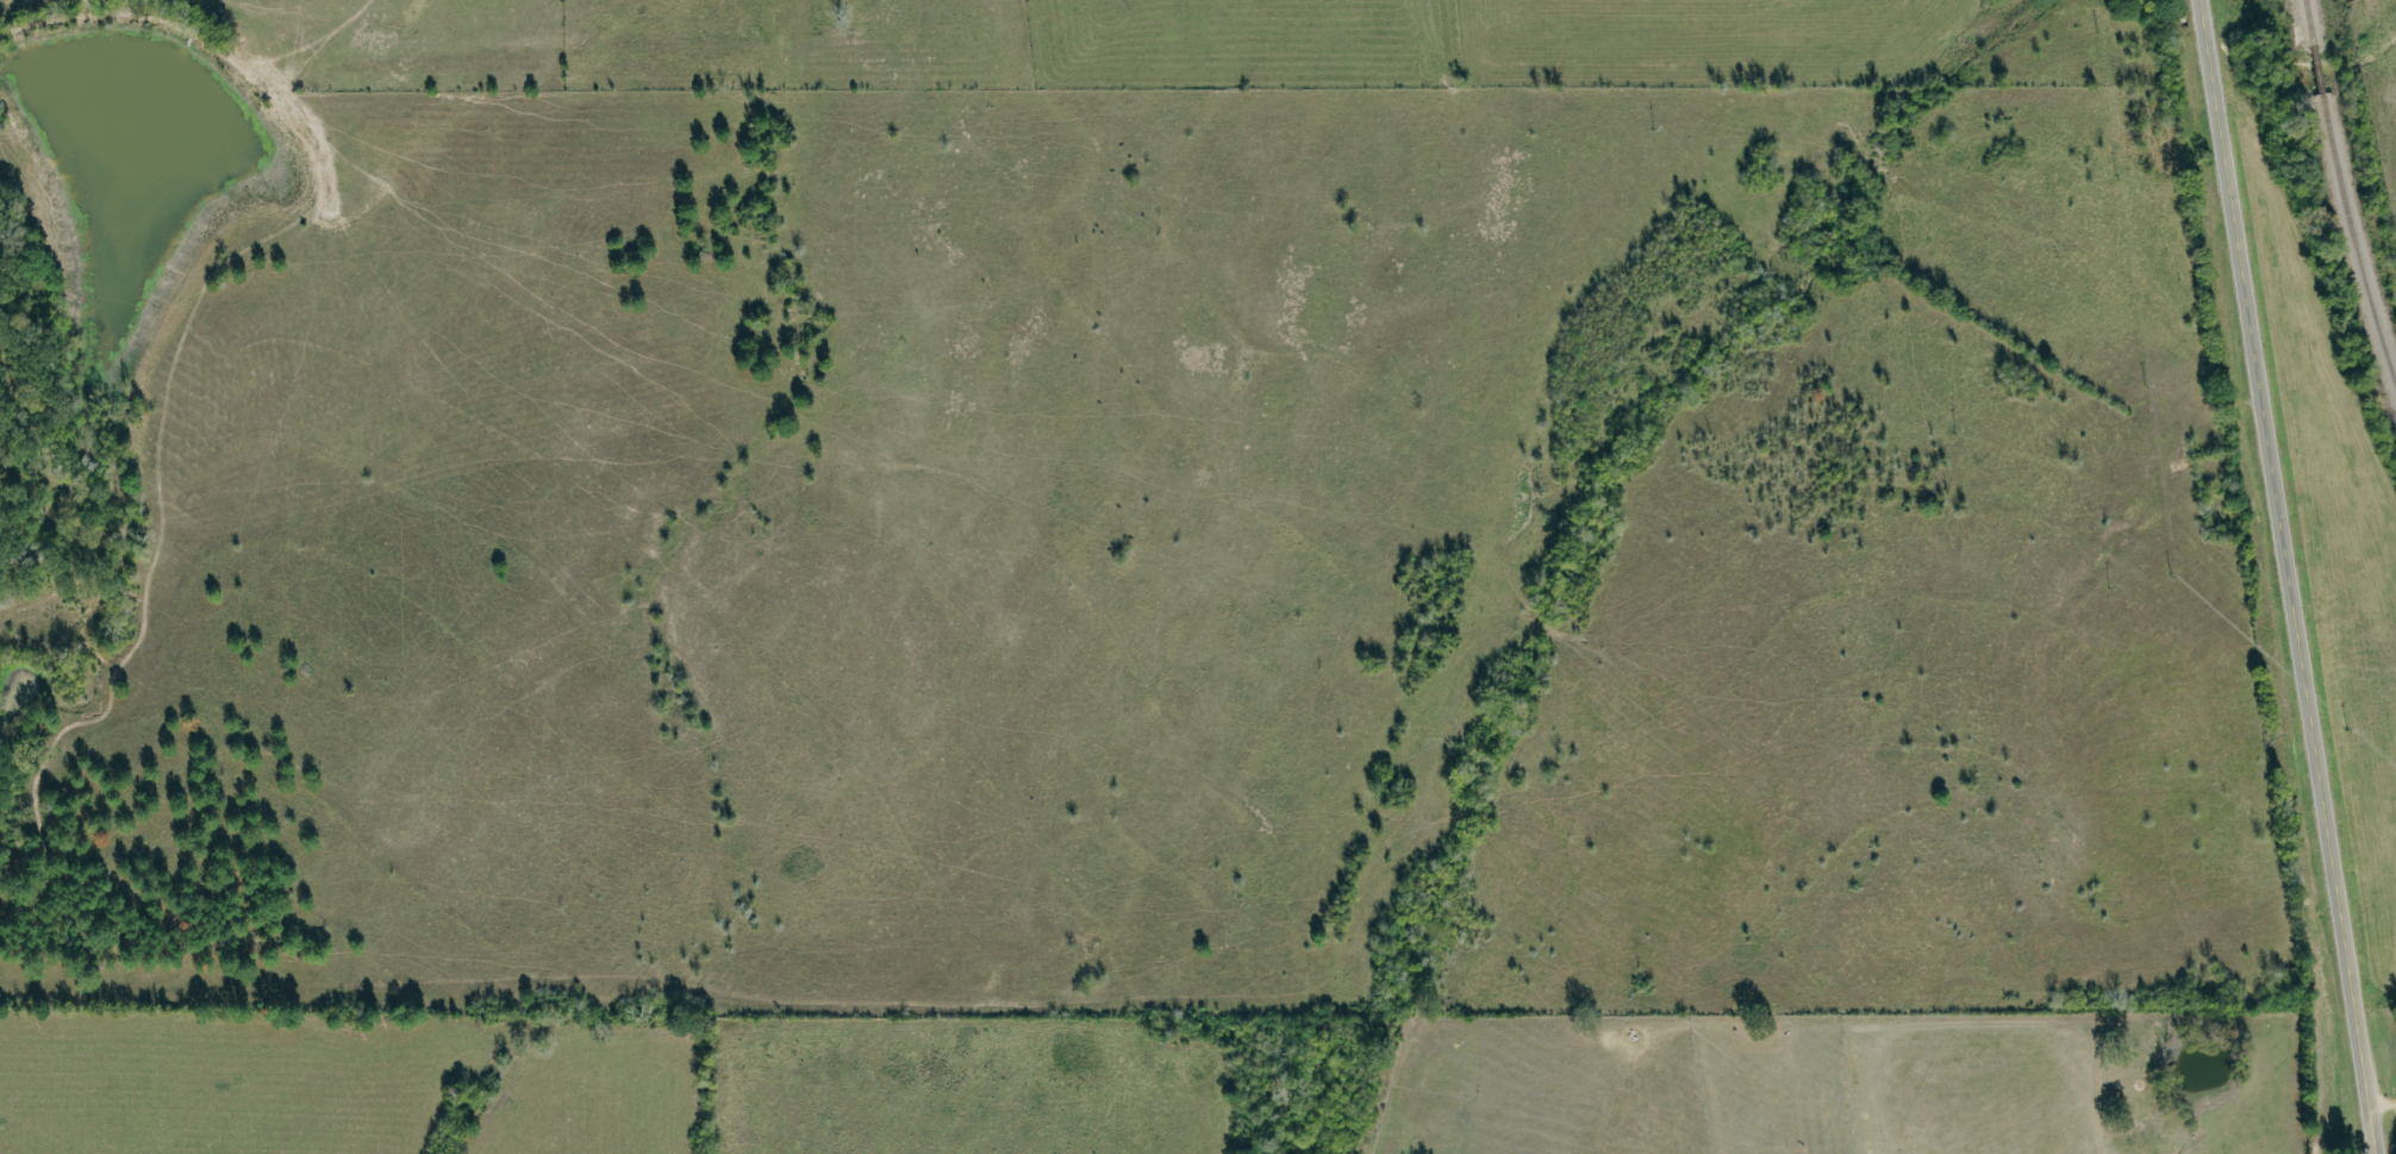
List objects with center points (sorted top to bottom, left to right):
railway: (2341, 201)
road: (2286, 576)

